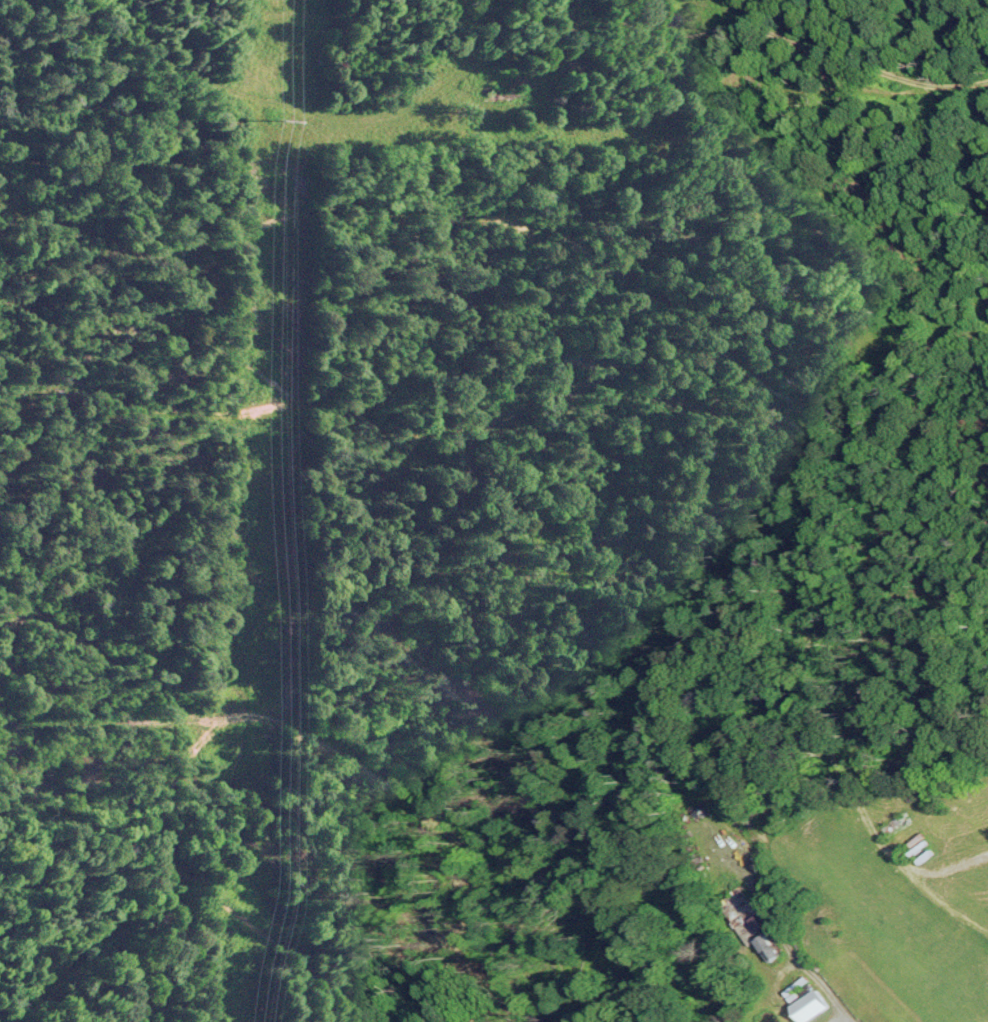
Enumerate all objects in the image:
building: (771, 953)

